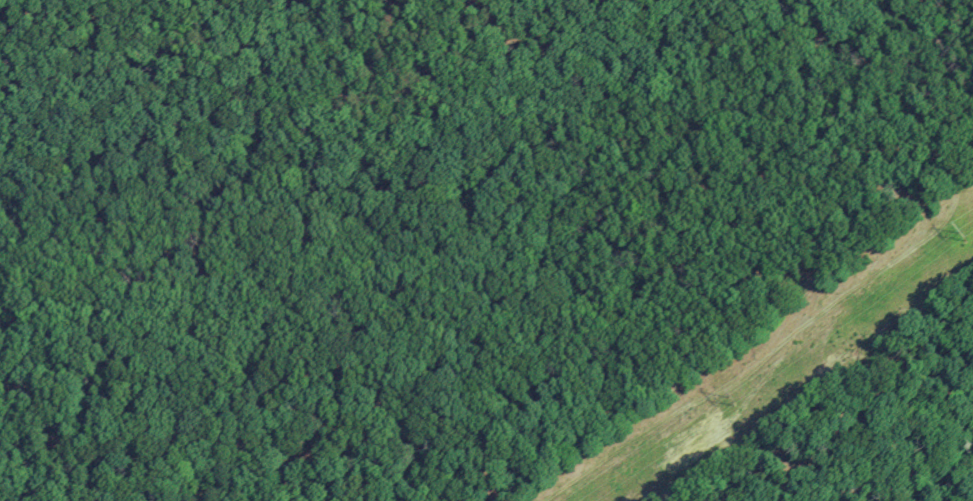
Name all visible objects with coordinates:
power tower: (963, 236)
power tower: (732, 401)

